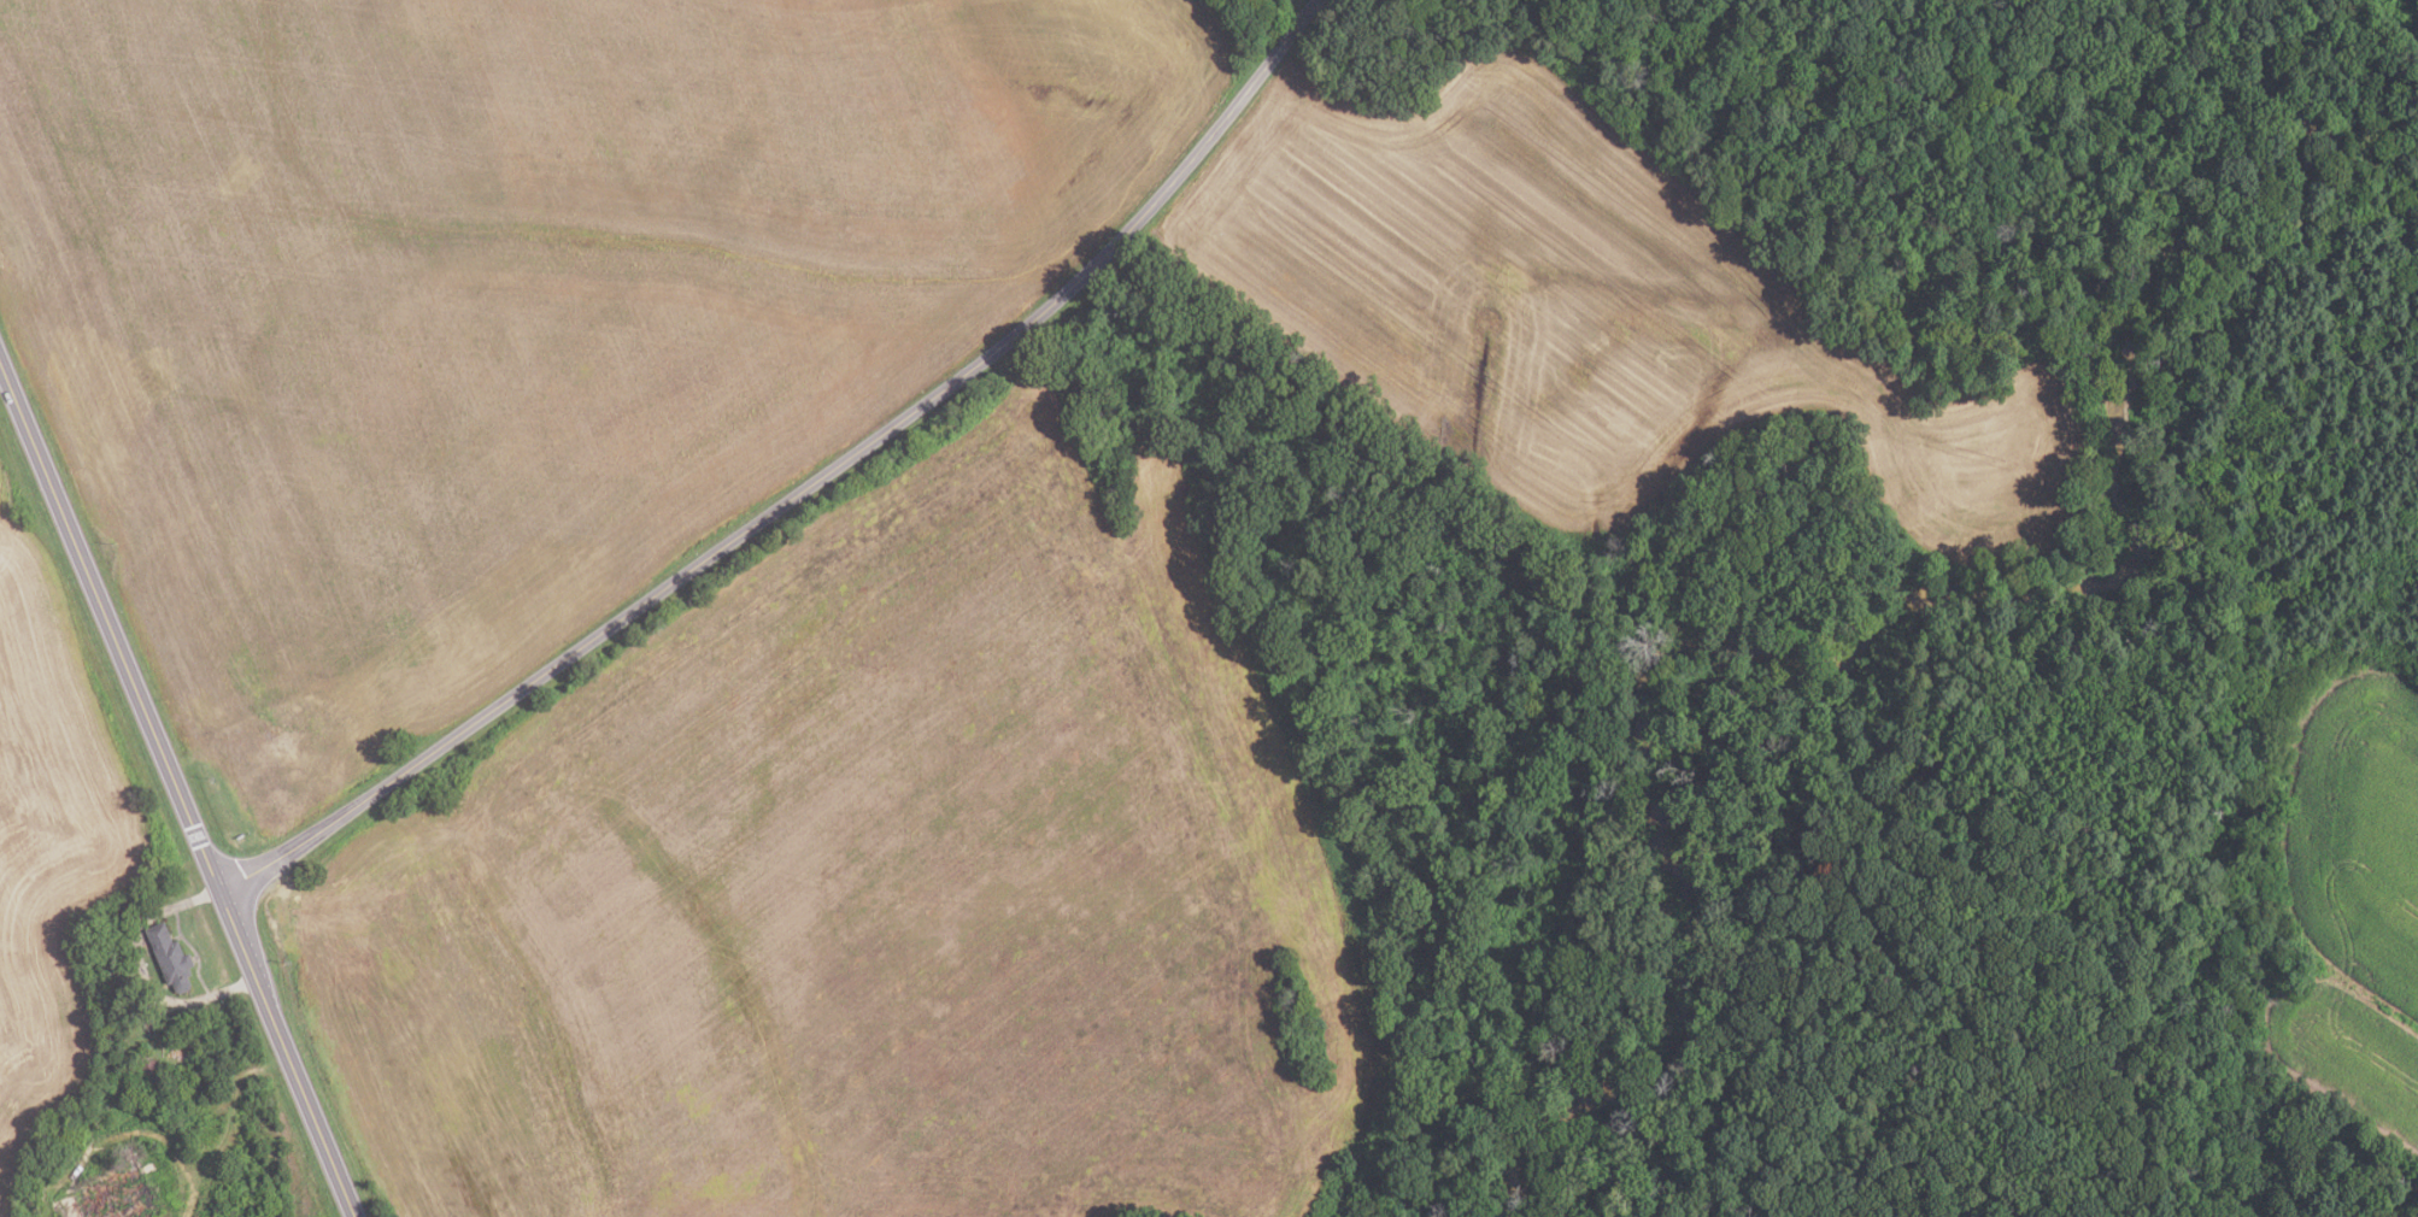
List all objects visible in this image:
crop: (507, 307)
crop: (1603, 311)
road: (803, 488)
road: (176, 790)
crop: (2352, 900)
building: (171, 958)
road: (141, 972)
building: (123, 1197)

